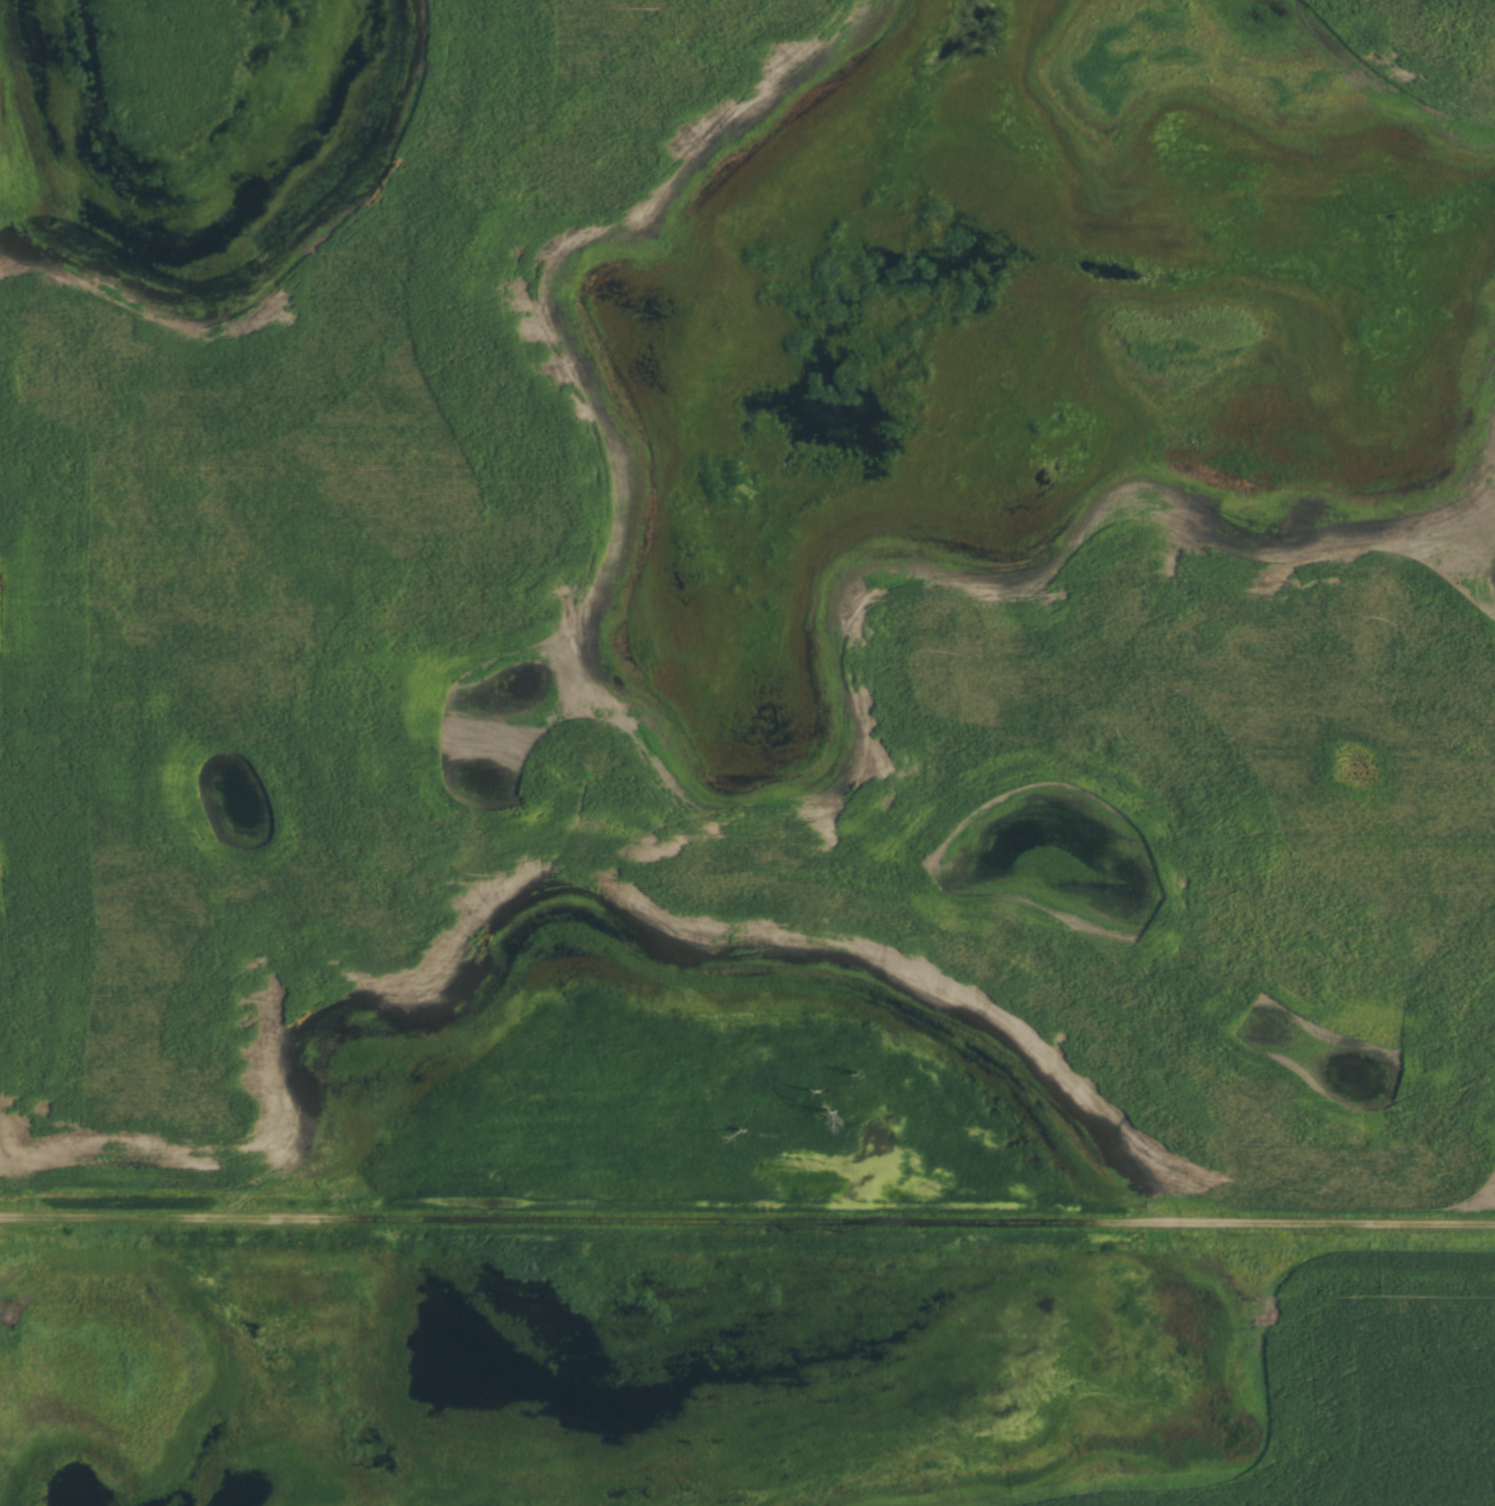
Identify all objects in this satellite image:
road: (747, 1234)

